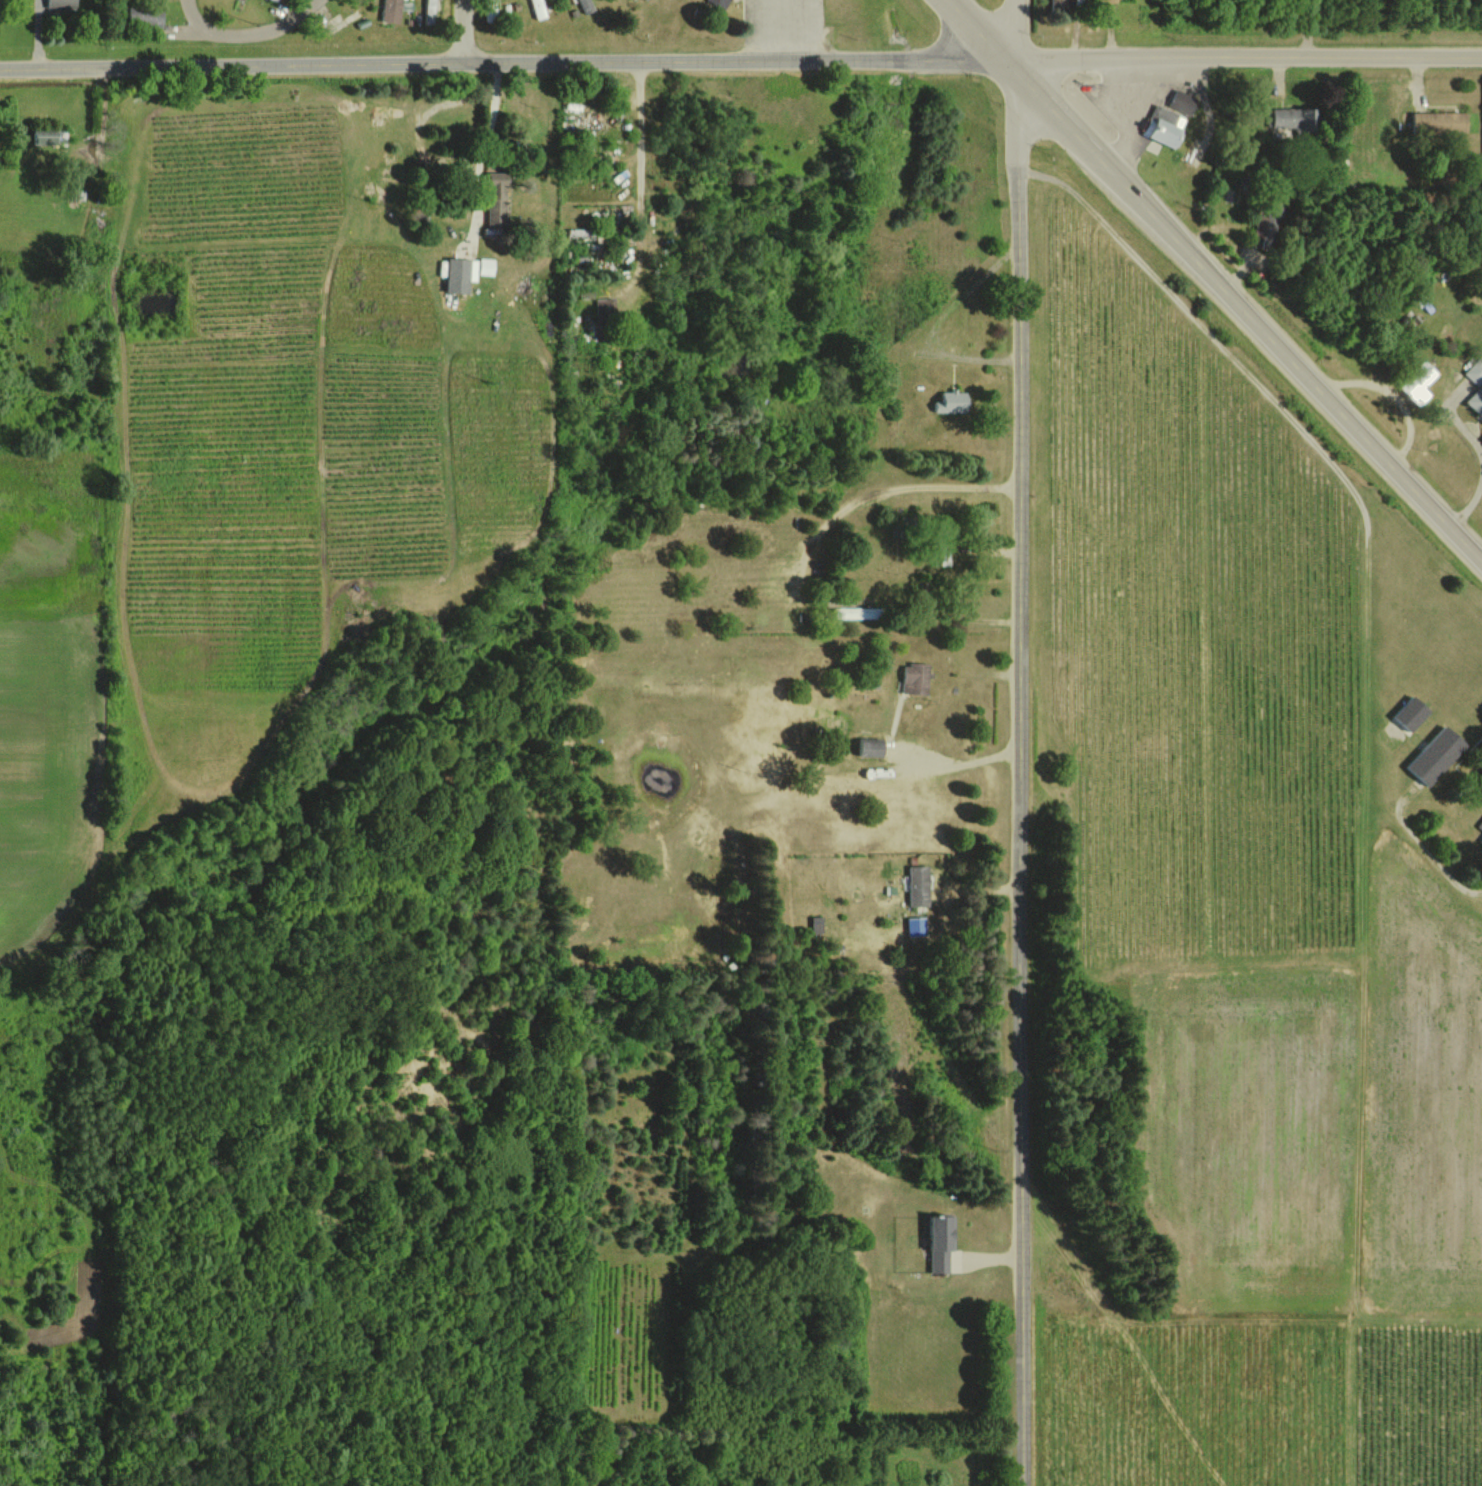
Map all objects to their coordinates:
building: (279, 0)
building: (62, 3)
building: (721, 3)
building: (1061, 4)
building: (585, 6)
building: (539, 9)
building: (392, 11)
building: (430, 12)
building: (146, 17)
road: (1307, 29)
road: (792, 31)
road: (464, 32)
road: (248, 35)
road: (740, 63)
building: (1182, 101)
road: (1133, 117)
building: (1298, 117)
building: (1440, 121)
building: (1165, 126)
building: (46, 135)
building: (498, 198)
building: (1267, 226)
building: (486, 265)
building: (461, 273)
road: (1215, 279)
building: (605, 310)
building: (1476, 371)
building: (1421, 381)
building: (953, 401)
building: (1476, 401)
road: (1470, 438)
road: (906, 486)
road: (1469, 508)
building: (916, 678)
building: (1413, 712)
road: (1020, 742)
building: (872, 747)
building: (1437, 754)
road: (958, 765)
building: (1480, 824)
building: (1481, 840)
road: (1424, 844)
building: (920, 885)
building: (818, 924)
building: (918, 925)
building: (943, 1242)

